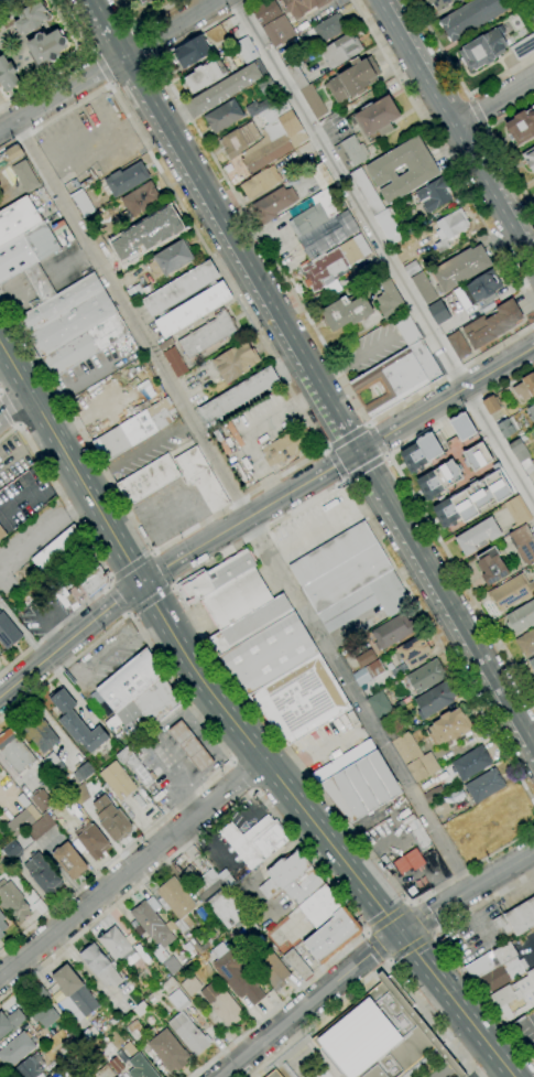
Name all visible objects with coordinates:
building: (138, 0)
building: (142, 1)
building: (438, 3)
building: (532, 4)
building: (303, 7)
building: (266, 12)
building: (472, 17)
building: (31, 18)
building: (305, 21)
road: (144, 22)
building: (326, 29)
building: (279, 31)
road: (115, 39)
road: (144, 43)
building: (46, 46)
building: (523, 47)
building: (483, 49)
building: (246, 50)
building: (341, 50)
building: (190, 52)
building: (236, 62)
road: (109, 65)
road: (75, 66)
road: (101, 71)
road: (132, 74)
building: (205, 74)
building: (7, 75)
building: (296, 76)
building: (352, 78)
road: (458, 80)
building: (265, 85)
building: (226, 88)
road: (468, 98)
building: (313, 101)
road: (494, 103)
building: (257, 107)
building: (281, 108)
road: (476, 112)
building: (224, 116)
building: (270, 117)
building: (378, 117)
building: (290, 123)
building: (522, 126)
road: (483, 127)
road: (458, 130)
building: (297, 139)
building: (239, 140)
road: (493, 147)
road: (444, 151)
building: (350, 152)
building: (11, 153)
building: (268, 153)
building: (528, 158)
building: (422, 172)
building: (25, 175)
building: (322, 175)
building: (126, 179)
building: (259, 182)
building: (304, 184)
building: (366, 192)
building: (434, 195)
building: (140, 200)
building: (81, 204)
building: (273, 204)
road: (185, 214)
building: (18, 219)
building: (307, 220)
road: (221, 225)
building: (407, 226)
building: (390, 228)
building: (449, 228)
building: (62, 233)
building: (328, 235)
flagpole: (272, 241)
building: (366, 244)
flagpole: (274, 247)
building: (25, 250)
building: (350, 251)
flagpole: (277, 252)
road: (384, 256)
building: (171, 260)
building: (460, 268)
building: (412, 269)
building: (325, 271)
road: (281, 276)
building: (39, 284)
building: (484, 287)
building: (149, 288)
building: (181, 288)
building: (423, 288)
building: (134, 292)
building: (465, 297)
building: (389, 300)
building: (193, 310)
building: (346, 312)
building: (438, 312)
building: (492, 324)
building: (73, 325)
building: (407, 330)
building: (208, 334)
building: (165, 344)
building: (458, 344)
building: (175, 362)
building: (236, 362)
building: (397, 378)
road: (73, 385)
building: (525, 388)
road: (55, 390)
building: (239, 395)
road: (445, 398)
road: (14, 405)
building: (491, 405)
road: (9, 407)
road: (35, 408)
building: (531, 411)
road: (0, 417)
road: (275, 417)
road: (18, 424)
building: (464, 426)
building: (506, 428)
building: (135, 429)
building: (235, 434)
road: (346, 434)
road: (379, 440)
building: (429, 445)
building: (283, 446)
traffic signals: (356, 451)
building: (521, 454)
building: (414, 455)
building: (478, 457)
road: (69, 461)
road: (335, 465)
building: (248, 467)
road: (366, 467)
road: (262, 474)
building: (448, 474)
building: (200, 478)
building: (148, 480)
building: (499, 484)
building: (429, 485)
building: (533, 486)
road: (61, 494)
building: (481, 496)
road: (244, 502)
road: (417, 505)
building: (465, 505)
road: (127, 507)
building: (517, 511)
building: (447, 514)
road: (248, 516)
road: (54, 528)
building: (2, 534)
building: (477, 536)
building: (523, 543)
building: (56, 548)
road: (151, 552)
road: (154, 553)
building: (80, 559)
road: (130, 566)
building: (491, 567)
road: (163, 568)
building: (339, 568)
road: (187, 577)
traffic signals: (141, 581)
road: (110, 582)
building: (67, 583)
road: (172, 584)
building: (86, 586)
road: (108, 586)
road: (171, 586)
building: (226, 589)
building: (512, 592)
road: (118, 601)
road: (151, 601)
building: (367, 602)
road: (444, 602)
road: (128, 614)
road: (130, 614)
building: (521, 617)
building: (250, 624)
road: (54, 628)
building: (392, 632)
building: (8, 633)
road: (69, 637)
building: (526, 643)
building: (412, 651)
building: (269, 654)
building: (366, 658)
building: (532, 664)
building: (368, 674)
building: (426, 677)
building: (127, 683)
building: (435, 699)
building: (156, 700)
building: (301, 700)
building: (379, 704)
building: (77, 723)
building: (391, 726)
building: (448, 726)
building: (37, 732)
road: (226, 740)
road: (219, 743)
road: (157, 744)
building: (190, 746)
gas station: (190, 746)
building: (406, 750)
building: (437, 750)
building: (14, 751)
road: (217, 756)
road: (262, 761)
building: (344, 762)
building: (471, 763)
building: (53, 764)
building: (423, 767)
building: (135, 768)
building: (81, 771)
road: (242, 776)
building: (117, 780)
building: (483, 786)
building: (361, 787)
building: (79, 794)
building: (434, 794)
building: (41, 800)
building: (139, 800)
building: (111, 819)
road: (279, 820)
building: (0, 822)
building: (41, 827)
building: (2, 833)
building: (418, 834)
building: (92, 841)
building: (255, 841)
building: (17, 847)
building: (69, 861)
building: (406, 861)
road: (132, 870)
building: (42, 874)
building: (283, 874)
building: (189, 875)
building: (226, 879)
building: (304, 886)
road: (465, 888)
building: (218, 898)
building: (12, 902)
road: (407, 904)
road: (412, 905)
building: (181, 909)
building: (201, 915)
building: (521, 917)
road: (423, 918)
road: (388, 919)
building: (151, 925)
building: (327, 925)
building: (2, 926)
building: (500, 926)
road: (367, 931)
traffic signals: (399, 931)
road: (433, 933)
road: (366, 935)
road: (433, 935)
building: (509, 937)
building: (116, 945)
road: (377, 948)
road: (411, 948)
road: (447, 951)
road: (386, 961)
road: (391, 962)
building: (172, 965)
building: (297, 965)
building: (100, 966)
building: (495, 968)
building: (273, 970)
building: (159, 972)
road: (374, 972)
building: (531, 976)
building: (238, 977)
building: (190, 986)
building: (74, 992)
building: (37, 995)
building: (175, 995)
building: (513, 999)
road: (308, 1003)
road: (455, 1003)
building: (221, 1005)
building: (141, 1008)
building: (45, 1016)
building: (10, 1022)
building: (134, 1030)
building: (91, 1034)
building: (189, 1034)
building: (380, 1035)
building: (77, 1042)
building: (17, 1048)
building: (168, 1051)
building: (64, 1055)
road: (460, 1058)
building: (116, 1065)
building: (29, 1067)
building: (96, 1067)
building: (140, 1067)
building: (103, 1074)
building: (274, 1074)
road: (502, 1074)
building: (47, 1076)

